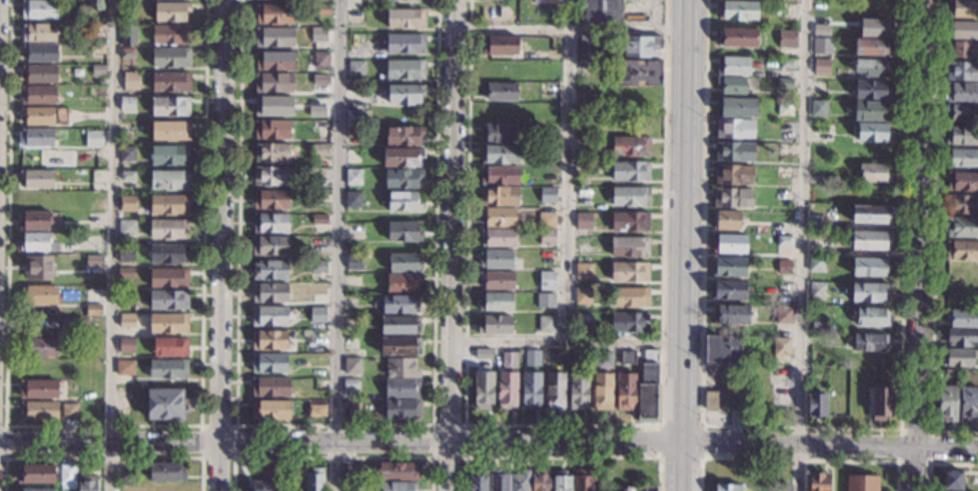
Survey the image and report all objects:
building: (400, 0)
building: (547, 0)
building: (788, 0)
building: (819, 2)
road: (686, 3)
building: (95, 4)
building: (875, 7)
building: (963, 8)
building: (39, 9)
building: (321, 10)
building: (738, 10)
building: (171, 11)
building: (600, 12)
building: (275, 14)
building: (406, 18)
building: (823, 25)
building: (871, 26)
building: (963, 29)
road: (569, 30)
building: (38, 32)
building: (170, 34)
building: (319, 35)
building: (128, 36)
building: (274, 37)
building: (737, 38)
building: (787, 38)
building: (405, 44)
building: (500, 45)
building: (822, 45)
building: (641, 46)
building: (587, 47)
building: (871, 47)
building: (96, 49)
building: (958, 49)
building: (40, 53)
building: (127, 53)
building: (172, 58)
building: (274, 60)
building: (321, 60)
building: (787, 63)
building: (733, 66)
building: (821, 67)
building: (872, 67)
building: (356, 68)
building: (404, 69)
building: (500, 70)
building: (962, 71)
building: (638, 72)
building: (39, 73)
building: (321, 79)
building: (131, 81)
building: (171, 82)
building: (275, 83)
building: (784, 83)
building: (731, 85)
building: (871, 90)
building: (500, 92)
building: (961, 92)
building: (404, 94)
building: (38, 95)
building: (631, 95)
building: (320, 102)
building: (127, 104)
building: (170, 106)
building: (274, 106)
building: (737, 107)
building: (781, 108)
building: (819, 108)
building: (316, 110)
building: (871, 111)
building: (499, 112)
building: (962, 112)
building: (44, 116)
building: (353, 118)
building: (734, 128)
building: (272, 130)
building: (170, 131)
building: (499, 132)
building: (873, 132)
building: (353, 133)
building: (960, 135)
building: (403, 136)
building: (37, 137)
building: (94, 139)
building: (630, 146)
building: (320, 151)
building: (734, 151)
building: (272, 153)
building: (548, 153)
building: (127, 154)
building: (499, 154)
building: (95, 155)
building: (170, 155)
building: (37, 157)
building: (401, 157)
building: (962, 157)
building: (630, 171)
building: (783, 172)
building: (873, 173)
building: (734, 174)
building: (499, 175)
building: (128, 176)
building: (271, 176)
building: (353, 177)
building: (37, 178)
building: (402, 178)
building: (169, 180)
building: (962, 181)
road: (568, 186)
building: (548, 195)
road: (682, 195)
building: (499, 196)
building: (629, 196)
building: (733, 197)
building: (271, 200)
building: (353, 200)
building: (404, 201)
building: (128, 204)
building: (169, 204)
building: (962, 204)
building: (870, 213)
building: (498, 216)
building: (319, 220)
building: (546, 220)
building: (726, 220)
building: (816, 220)
building: (35, 221)
building: (583, 221)
building: (629, 221)
building: (270, 223)
building: (962, 227)
building: (127, 228)
building: (168, 229)
building: (355, 231)
building: (404, 232)
building: (547, 236)
building: (499, 237)
road: (933, 239)
building: (123, 240)
building: (783, 240)
building: (871, 240)
building: (36, 242)
building: (729, 244)
road: (111, 245)
road: (222, 245)
road: (335, 245)
road: (451, 245)
road: (802, 245)
road: (918, 245)
building: (270, 246)
building: (629, 246)
building: (815, 247)
building: (962, 250)
building: (126, 254)
building: (168, 254)
building: (497, 259)
building: (354, 261)
building: (94, 262)
building: (404, 263)
building: (815, 264)
building: (318, 266)
building: (869, 266)
building: (728, 267)
building: (784, 267)
building: (38, 268)
building: (270, 270)
building: (583, 271)
building: (125, 272)
building: (629, 272)
building: (169, 278)
building: (497, 280)
building: (546, 280)
building: (403, 283)
building: (728, 290)
building: (817, 290)
building: (270, 292)
building: (870, 292)
building: (39, 296)
building: (582, 296)
building: (629, 297)
building: (316, 298)
building: (168, 300)
building: (494, 301)
building: (546, 301)
building: (397, 304)
building: (93, 311)
building: (318, 314)
building: (731, 314)
building: (784, 315)
building: (872, 316)
building: (269, 317)
building: (962, 318)
building: (583, 319)
building: (127, 322)
building: (629, 322)
building: (818, 323)
building: (168, 324)
building: (546, 324)
building: (69, 325)
building: (399, 325)
building: (495, 325)
building: (962, 338)
building: (270, 340)
road: (565, 340)
building: (869, 341)
building: (126, 345)
building: (399, 346)
building: (781, 346)
building: (39, 347)
building: (170, 347)
building: (721, 349)
building: (746, 352)
building: (483, 353)
building: (559, 355)
building: (573, 355)
building: (627, 357)
building: (960, 357)
building: (531, 359)
building: (604, 359)
building: (509, 360)
building: (269, 363)
building: (352, 366)
building: (124, 368)
building: (402, 368)
building: (38, 369)
building: (168, 369)
building: (817, 370)
building: (951, 373)
building: (349, 384)
building: (270, 387)
building: (402, 388)
building: (648, 388)
building: (39, 389)
building: (483, 390)
building: (507, 390)
building: (555, 390)
building: (531, 391)
building: (578, 391)
building: (602, 391)
building: (625, 391)
building: (739, 395)
building: (711, 401)
building: (881, 402)
building: (166, 403)
building: (947, 403)
building: (968, 403)
building: (816, 406)
building: (350, 408)
building: (316, 409)
building: (402, 409)
building: (271, 410)
building: (39, 411)
building: (69, 411)
road: (679, 413)
road: (102, 425)
road: (333, 425)
road: (562, 425)
road: (700, 427)
road: (802, 427)
road: (929, 432)
road: (5, 441)
road: (339, 443)
road: (828, 445)
road: (234, 455)
road: (332, 457)
road: (562, 457)
road: (103, 458)
road: (464, 458)
road: (796, 458)
road: (939, 463)
road: (678, 467)
building: (119, 472)
building: (167, 472)
building: (397, 472)
building: (36, 474)
building: (67, 477)
building: (314, 480)
building: (540, 480)
building: (583, 480)
building: (950, 480)
building: (477, 481)
building: (499, 481)
building: (520, 481)
building: (562, 481)
building: (819, 481)
building: (87, 483)
building: (861, 483)
building: (262, 486)
building: (398, 486)
building: (728, 487)
building: (648, 488)
building: (628, 489)
building: (34, 490)

